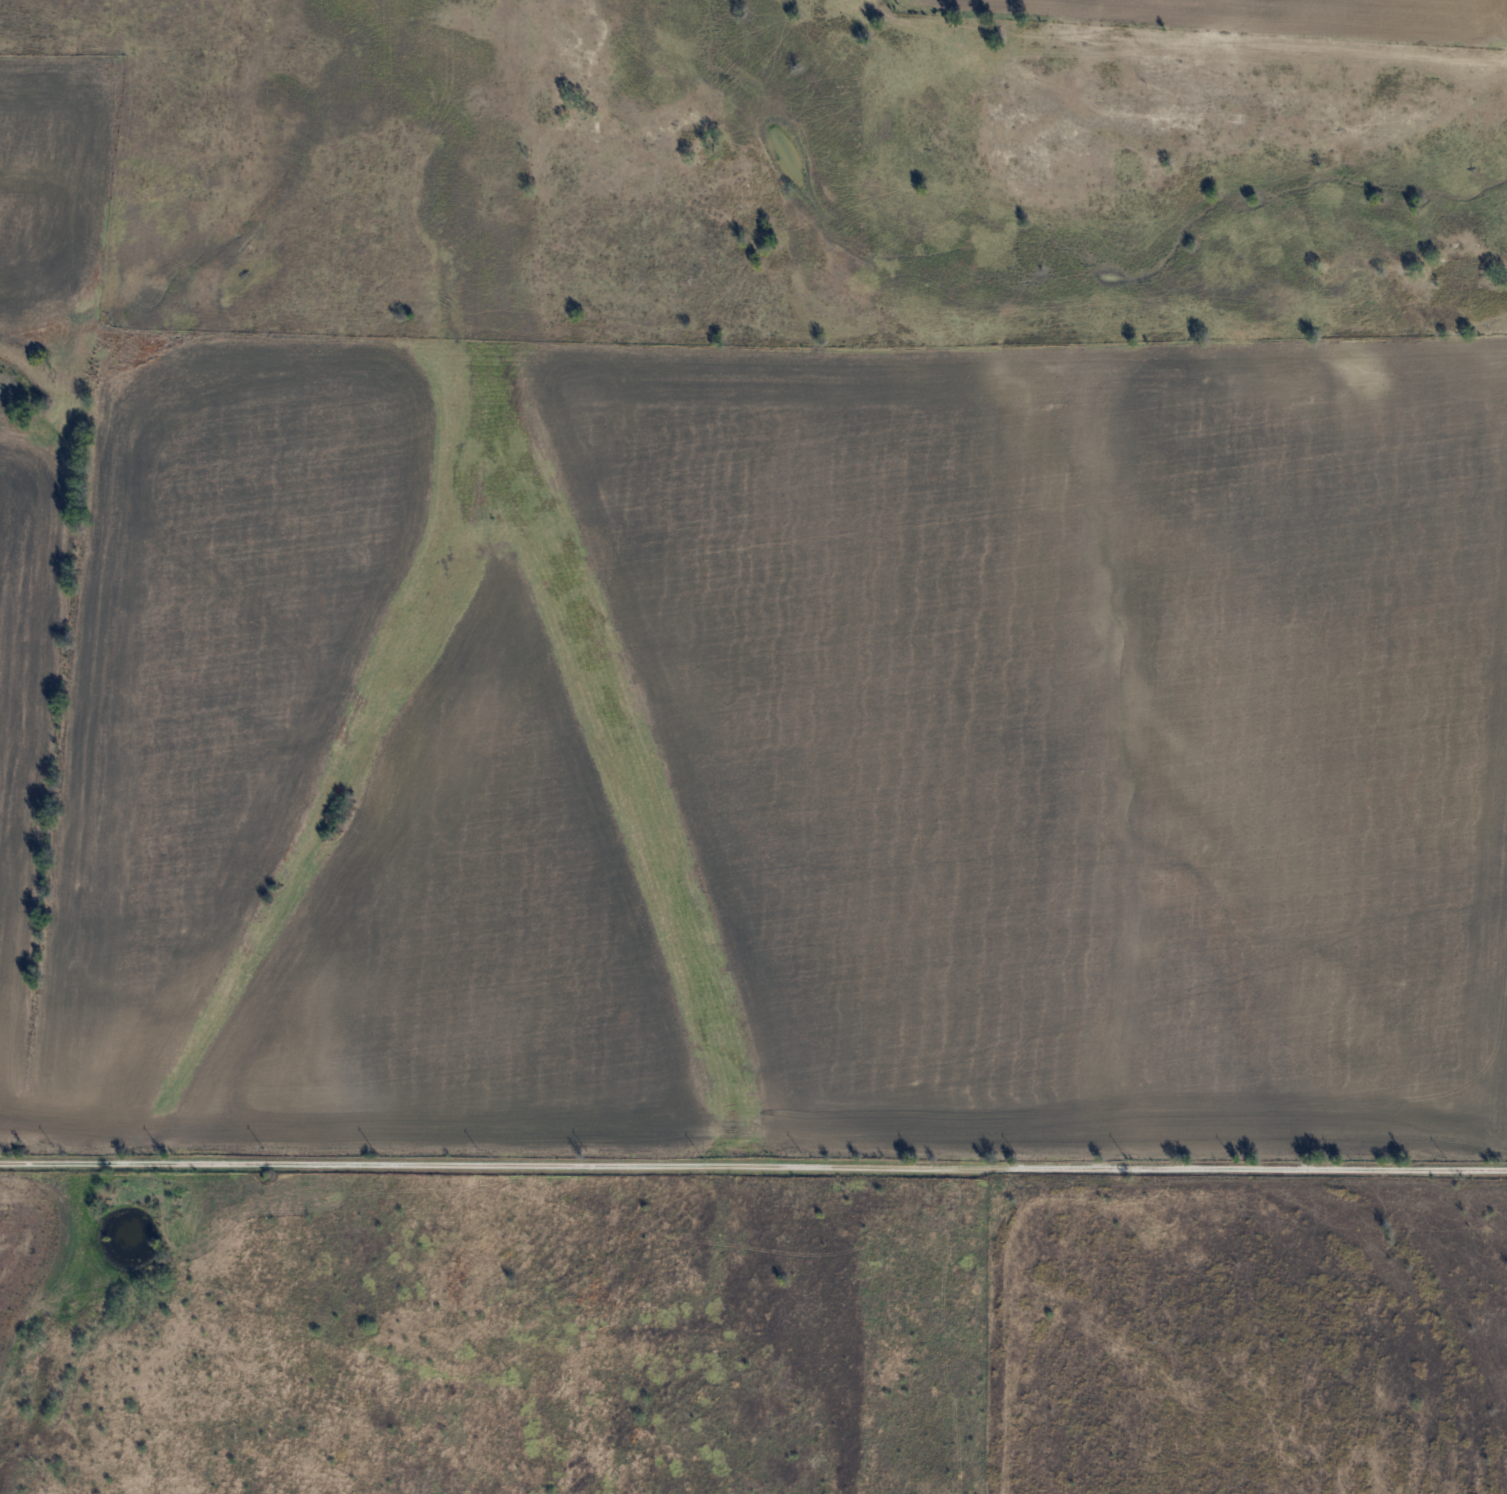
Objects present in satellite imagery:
road: (753, 1163)

